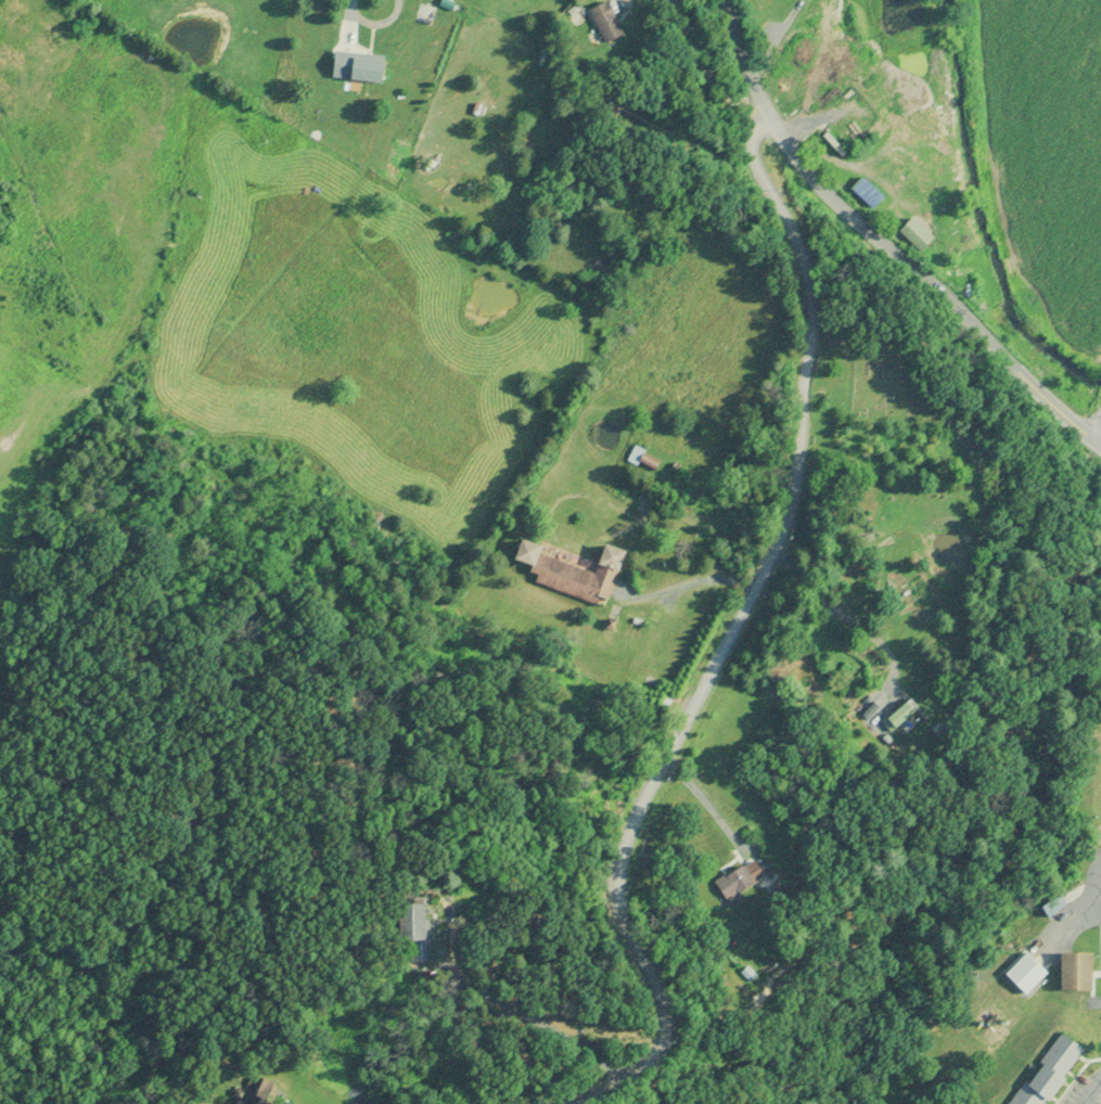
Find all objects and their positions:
building: (603, 22)
building: (357, 66)
road: (884, 234)
building: (572, 572)
road: (729, 643)
building: (899, 715)
building: (737, 880)
building: (410, 921)
building: (1074, 970)
building: (1024, 972)
building: (1046, 1070)
building: (256, 1091)
road: (1093, 1093)

